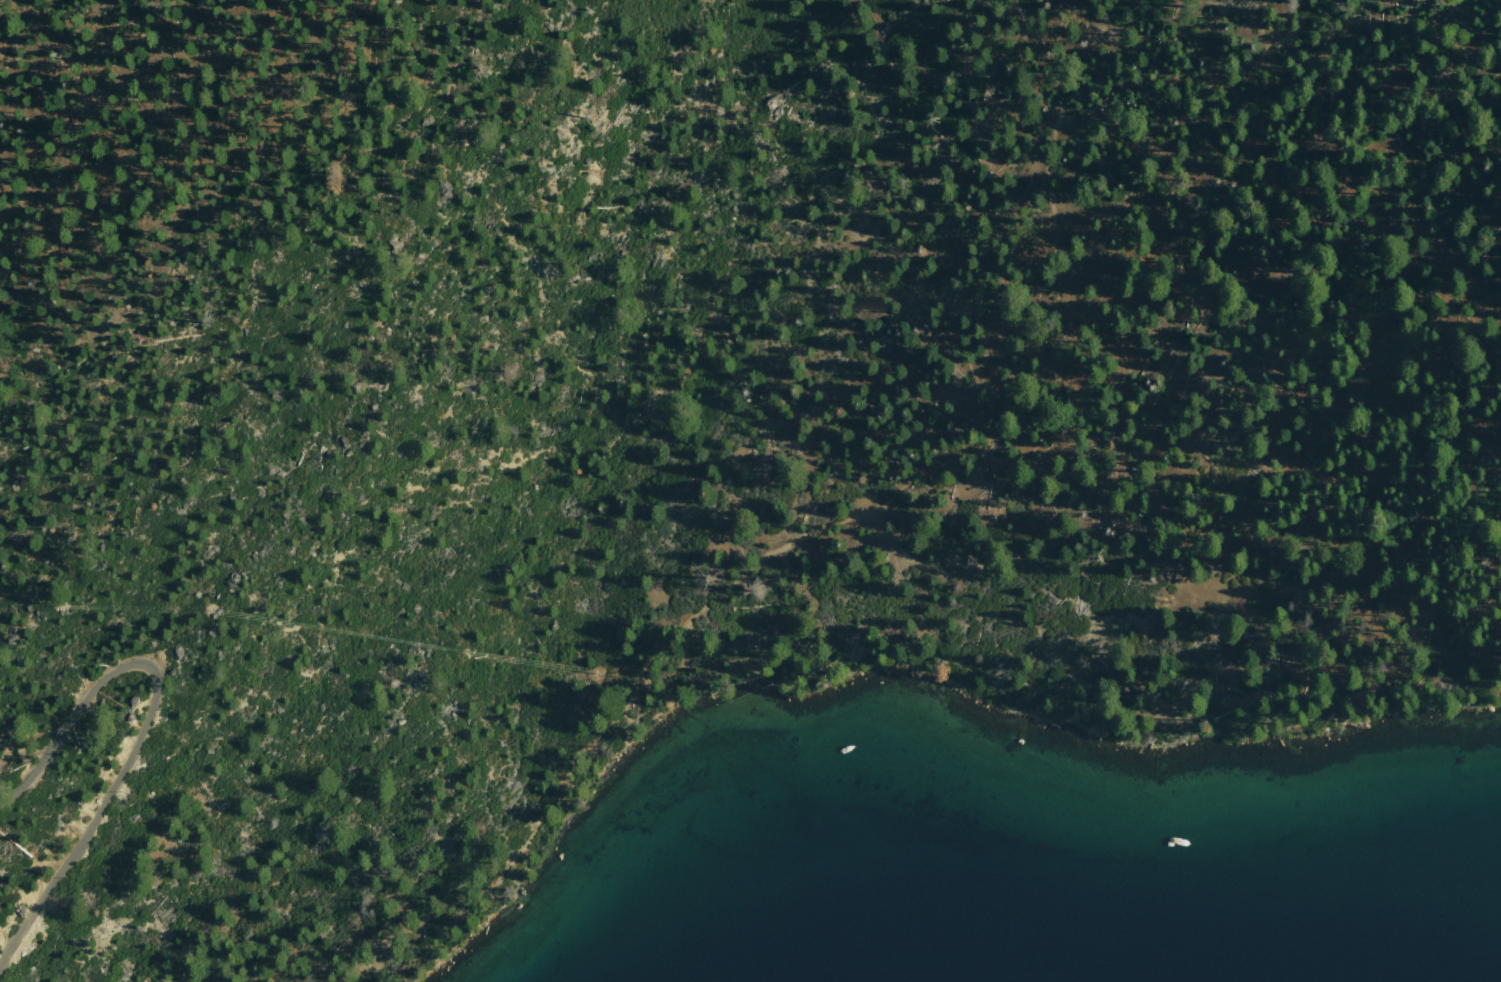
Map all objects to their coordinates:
road: (896, 20)
road: (820, 534)
road: (138, 732)

